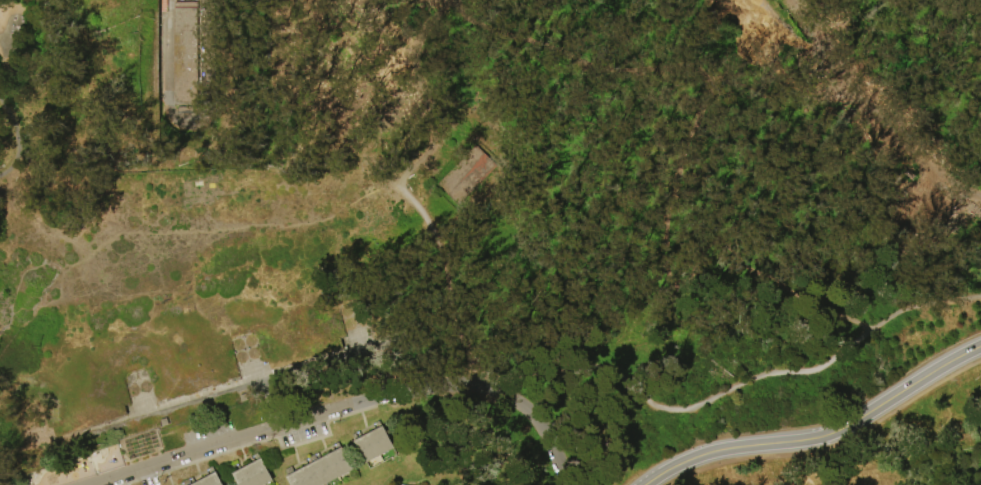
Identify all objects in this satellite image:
building: (187, 55)
road: (872, 109)
road: (14, 134)
road: (672, 162)
park: (490, 242)
road: (548, 372)
road: (358, 404)
road: (819, 436)
building: (374, 444)
building: (323, 469)
building: (254, 474)
building: (208, 479)

